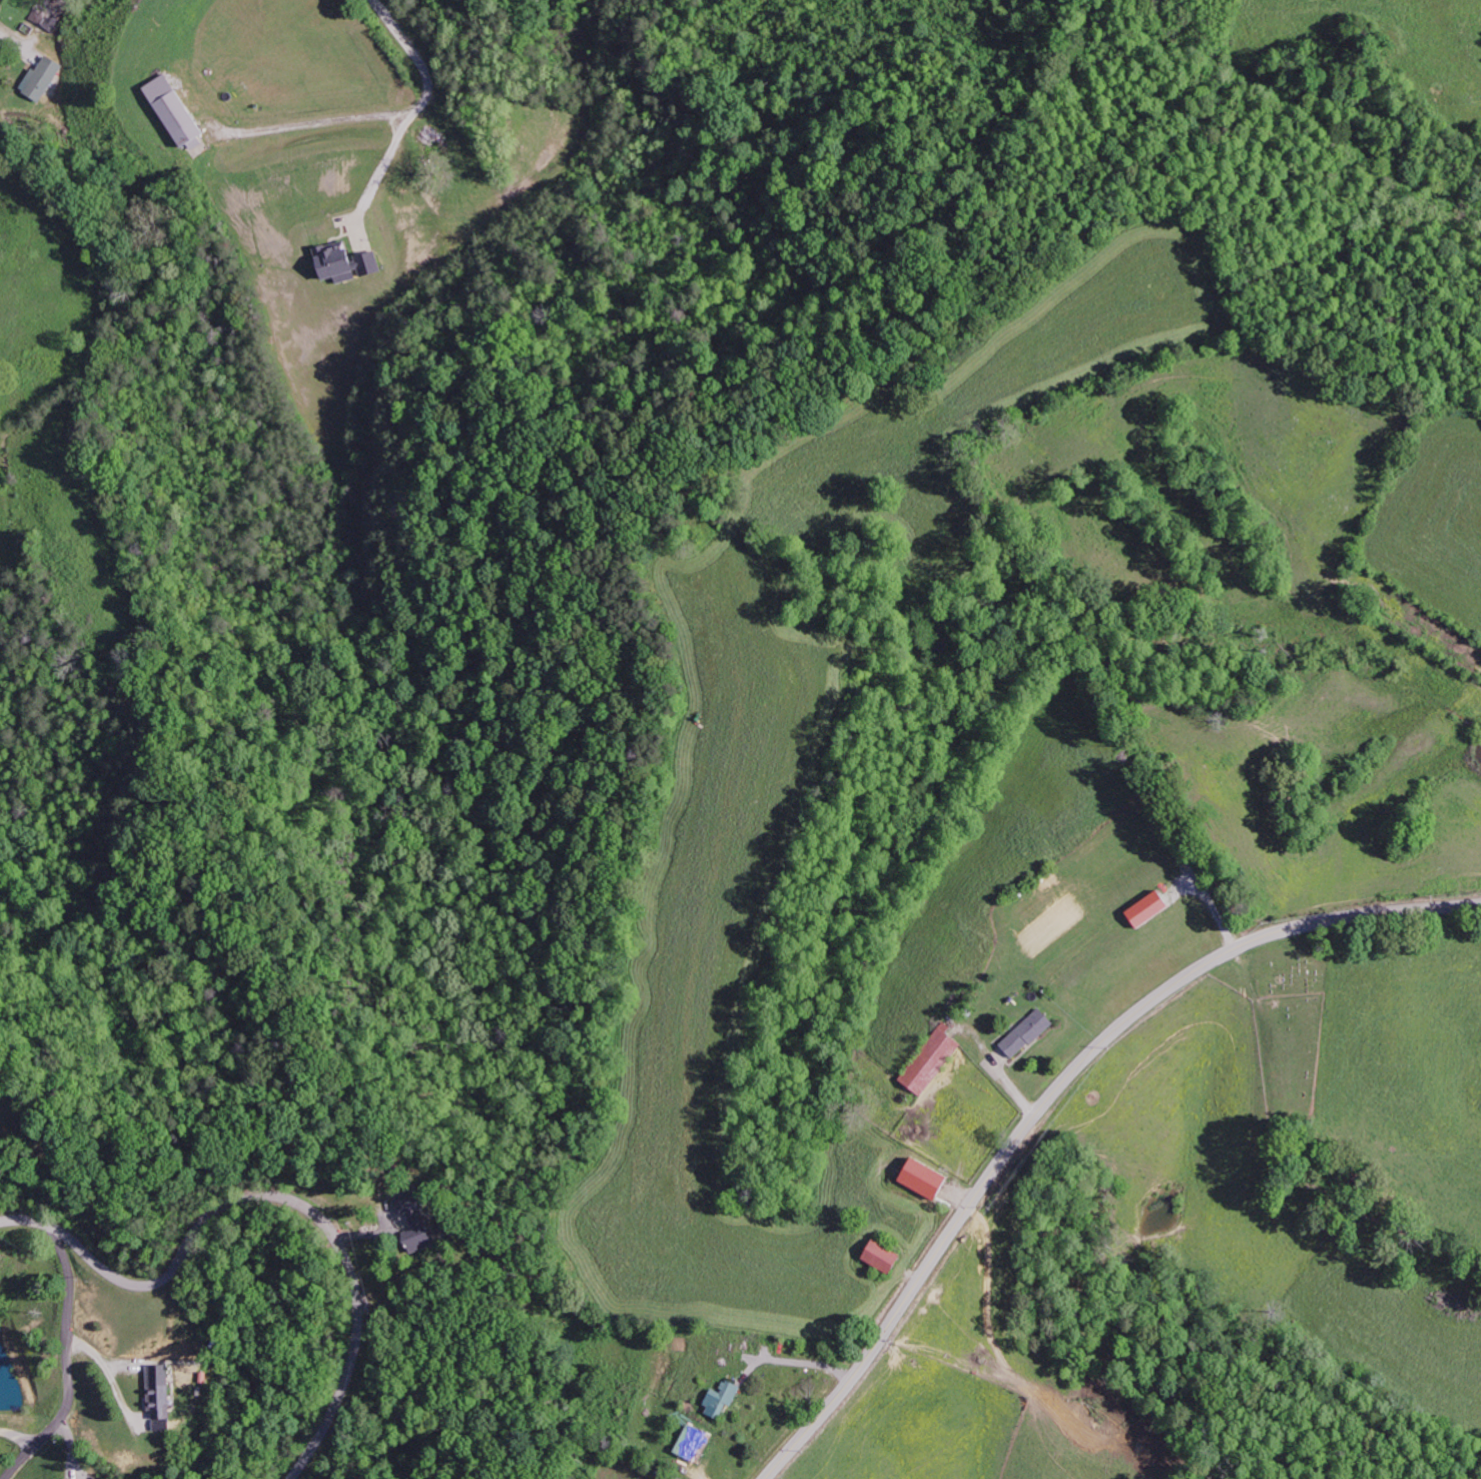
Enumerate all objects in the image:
building: (52, 15)
building: (45, 79)
building: (180, 111)
building: (350, 264)
building: (1139, 908)
building: (1022, 1033)
building: (926, 1061)
road: (1054, 1092)
building: (1, 1133)
building: (915, 1178)
road: (277, 1197)
building: (426, 1234)
building: (874, 1255)
road: (70, 1362)
building: (163, 1396)
building: (724, 1399)
building: (697, 1444)

